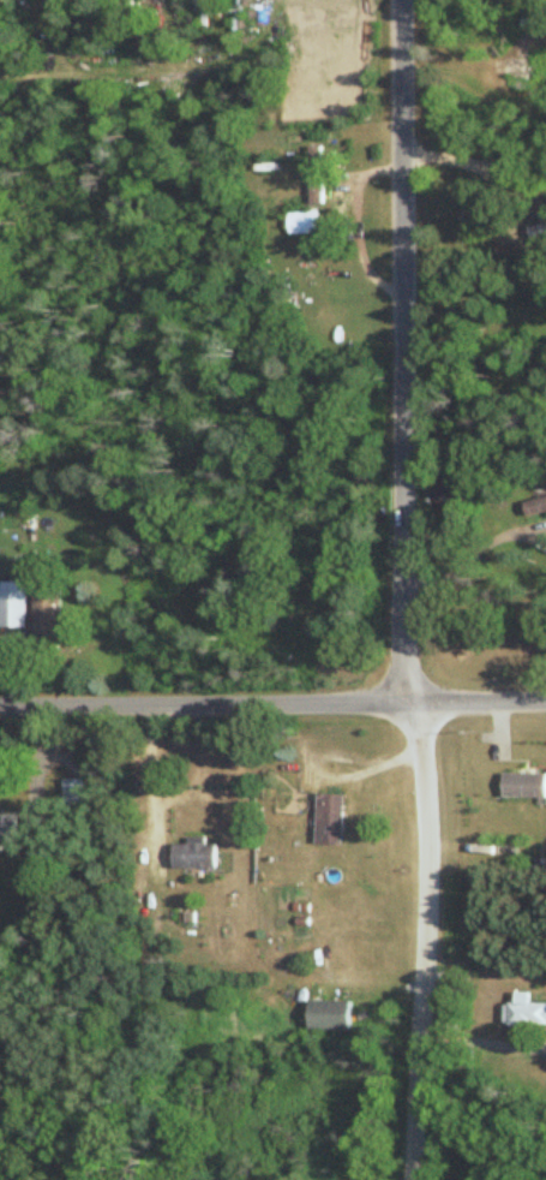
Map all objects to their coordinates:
road: (293, 48)
building: (317, 177)
building: (302, 224)
building: (538, 232)
building: (535, 508)
road: (475, 552)
road: (409, 590)
building: (14, 607)
building: (49, 614)
road: (272, 707)
road: (148, 776)
road: (325, 781)
building: (523, 786)
building: (76, 793)
building: (328, 820)
building: (8, 829)
building: (193, 857)
building: (523, 1014)
building: (328, 1015)
road: (482, 1043)

